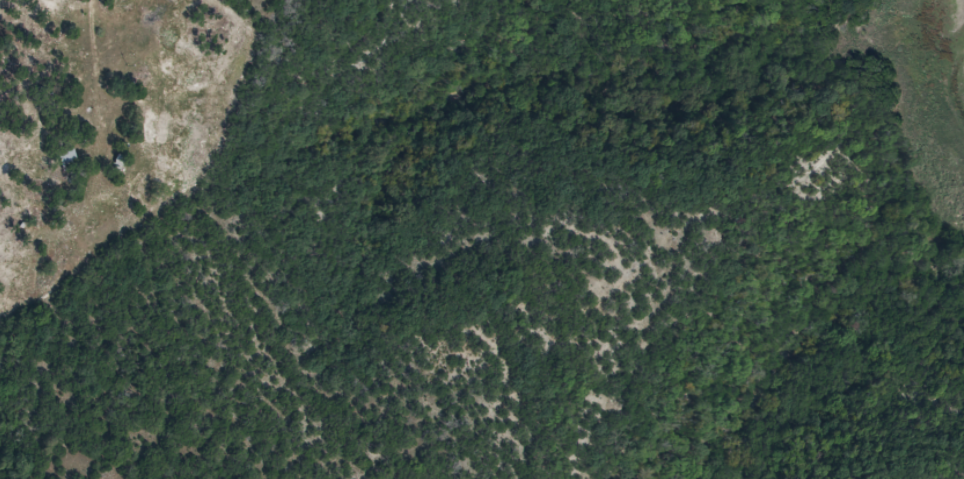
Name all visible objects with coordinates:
road: (34, 6)
building: (151, 125)

